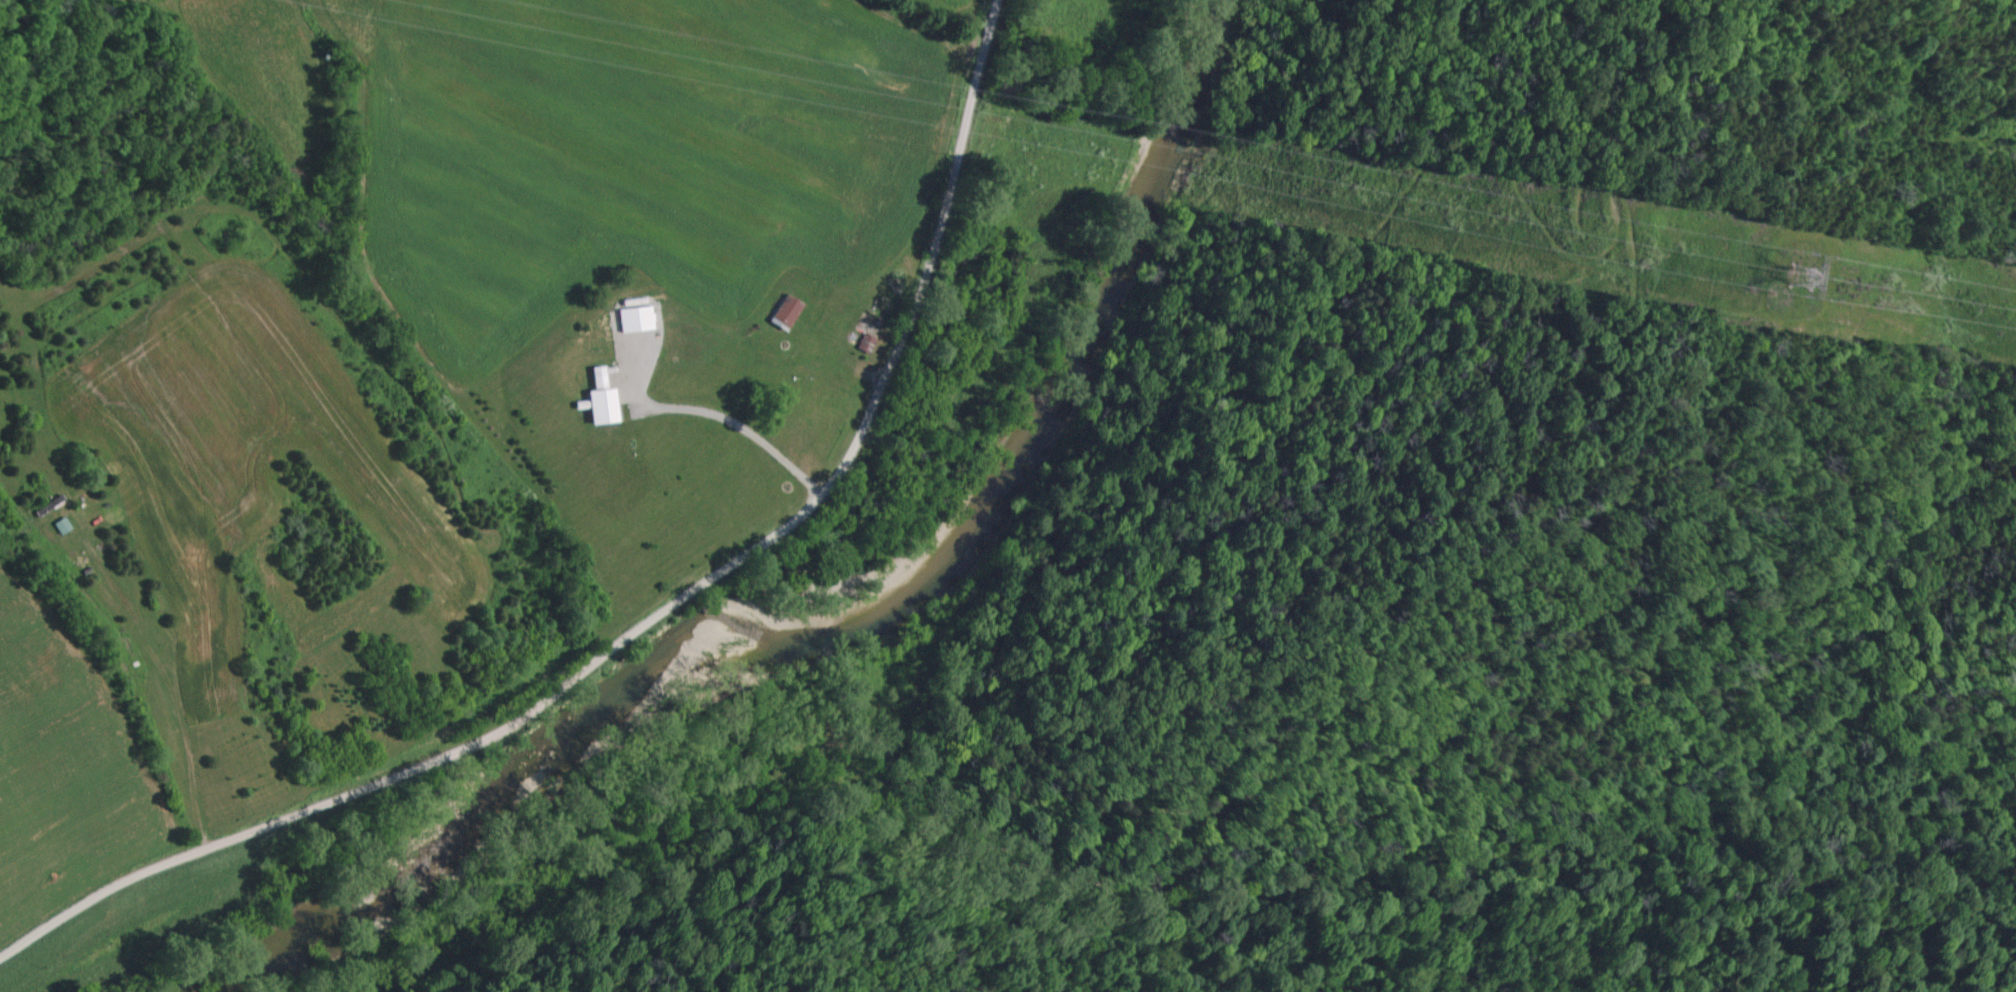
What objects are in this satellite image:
power tower: (1802, 278)
building: (782, 314)
building: (631, 321)
building: (862, 346)
crop: (449, 381)
building: (597, 402)
building: (59, 527)
road: (651, 617)
river: (831, 642)

